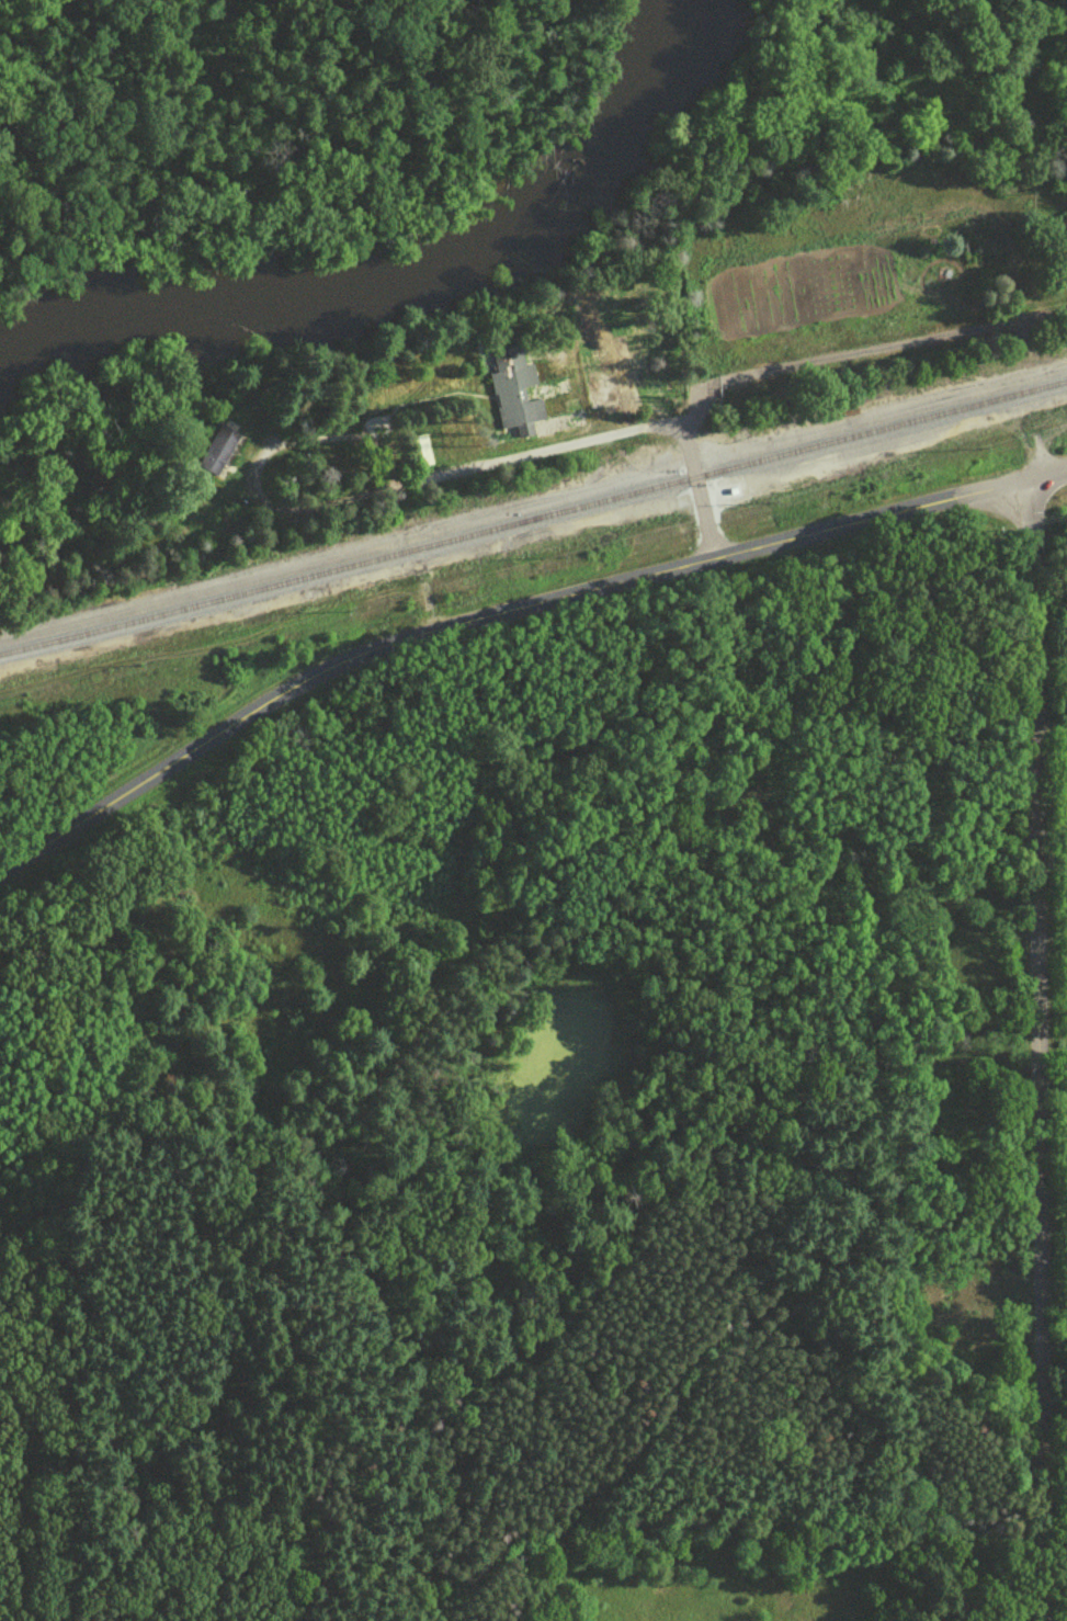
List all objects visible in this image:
river: (404, 280)
building: (512, 389)
road: (608, 431)
road: (300, 438)
building: (215, 449)
road: (385, 452)
road: (1051, 478)
road: (319, 502)
railway: (533, 515)
road: (490, 612)
road: (1049, 726)
road: (1036, 1001)
road: (672, 1404)
road: (1043, 1571)

